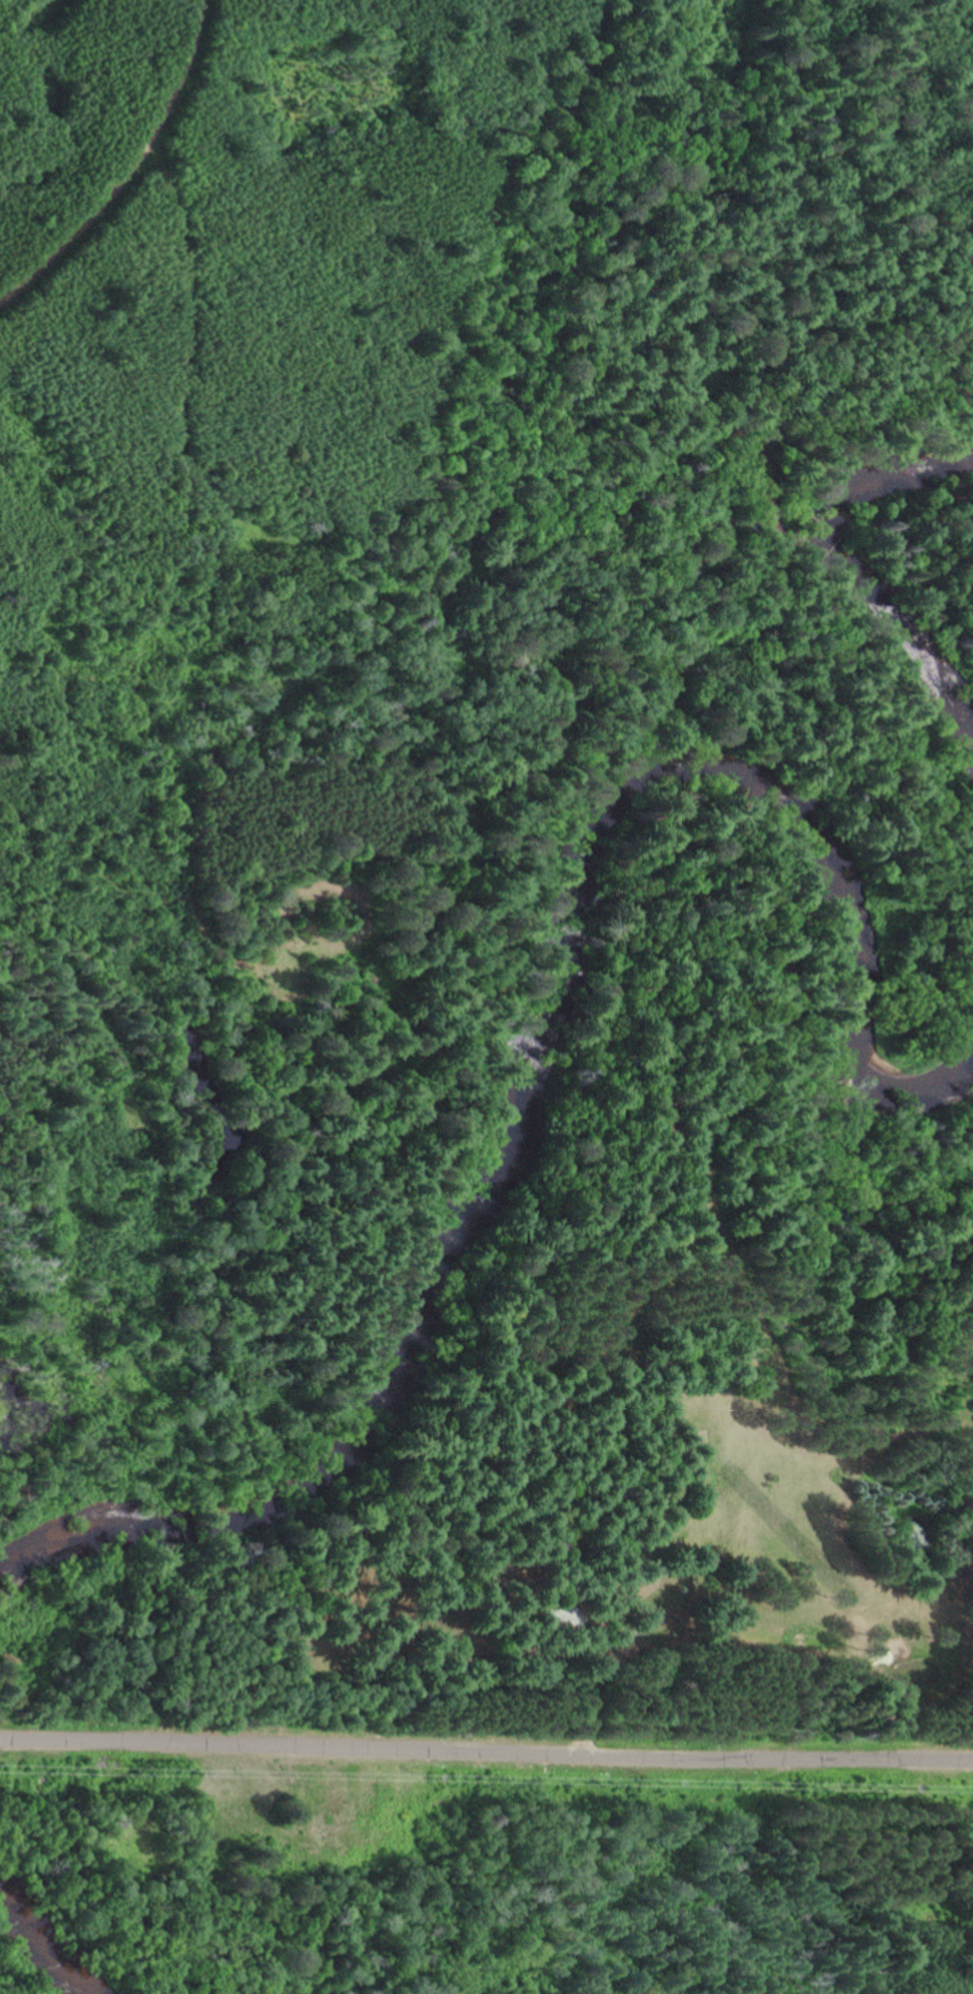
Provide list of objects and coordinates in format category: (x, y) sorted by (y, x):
road: (123, 160)
river: (892, 479)
river: (898, 644)
river: (531, 1036)
road: (486, 1753)
river: (50, 1938)

